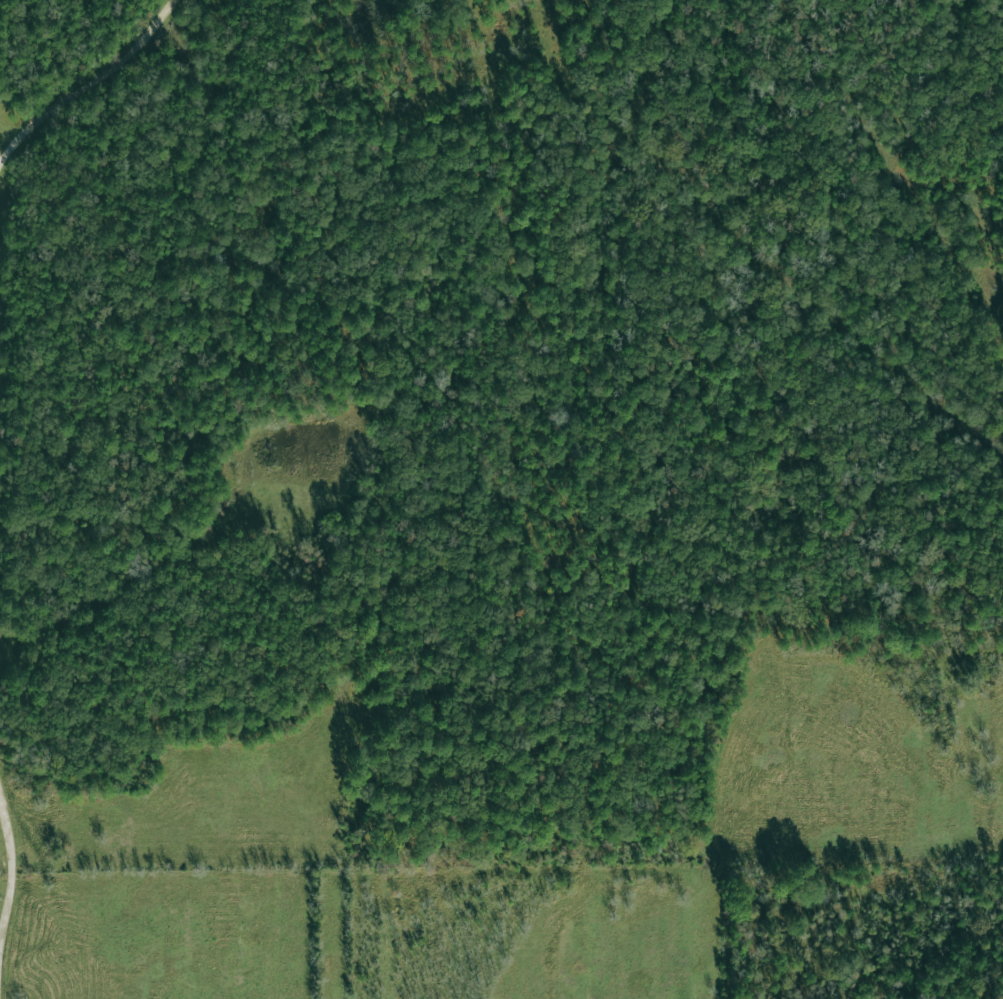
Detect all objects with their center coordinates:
road: (92, 88)
road: (423, 499)
road: (11, 897)

